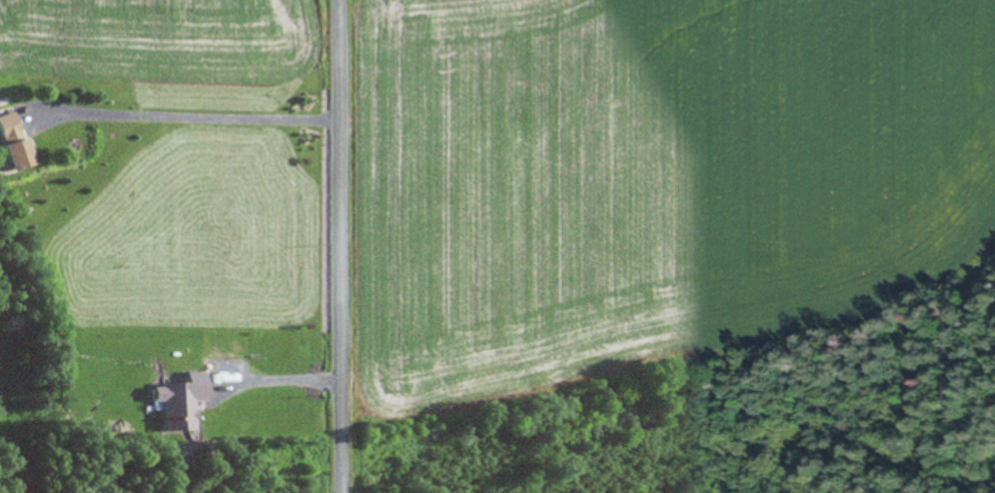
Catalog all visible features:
road: (186, 115)
building: (18, 154)
road: (339, 246)
road: (281, 377)

